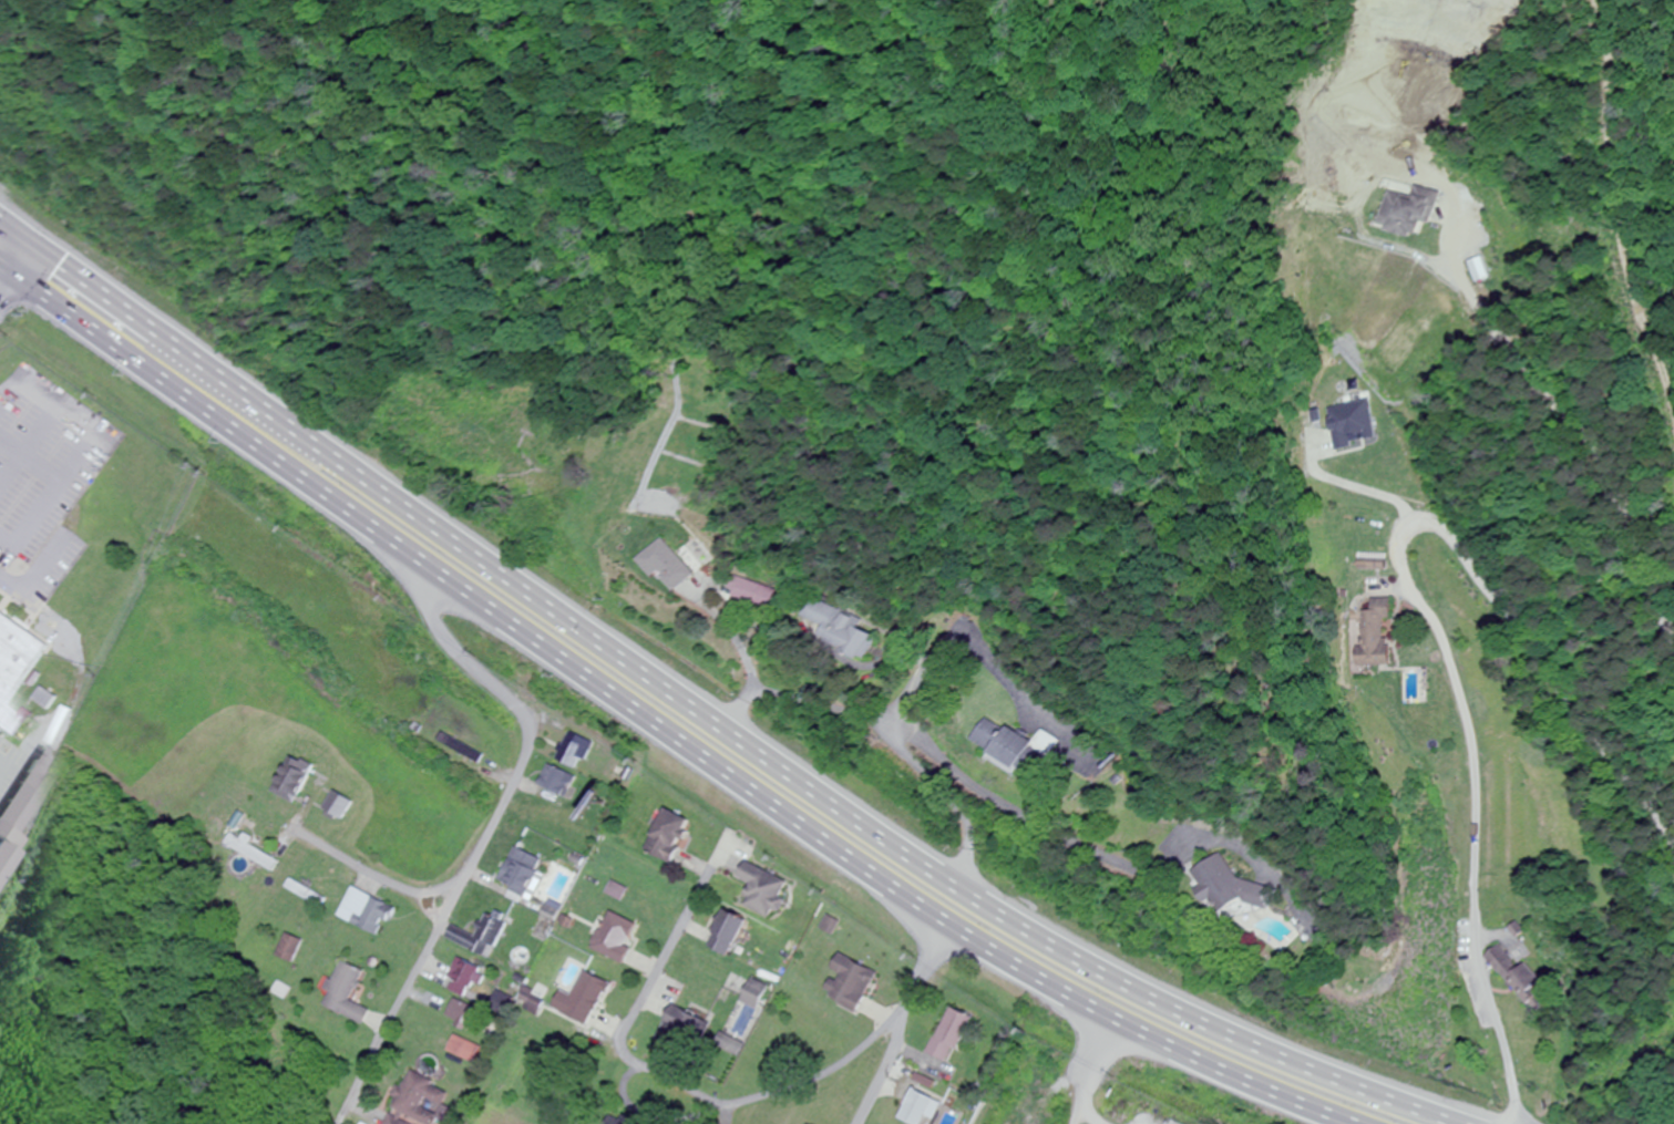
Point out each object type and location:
building: (1407, 213)
traffic signals: (34, 246)
road: (17, 274)
traffic signals: (17, 275)
road: (0, 301)
building: (1344, 389)
road: (1568, 423)
road: (708, 560)
building: (1372, 565)
building: (668, 566)
building: (754, 596)
road: (1432, 609)
building: (819, 612)
building: (1376, 636)
building: (850, 641)
road: (466, 658)
building: (18, 659)
road: (976, 661)
road: (704, 715)
road: (658, 725)
road: (876, 728)
building: (1016, 747)
building: (462, 749)
building: (574, 752)
building: (296, 781)
building: (558, 782)
building: (20, 796)
road: (954, 803)
building: (341, 806)
road: (1033, 821)
building: (669, 837)
building: (256, 854)
road: (376, 870)
road: (466, 877)
building: (520, 878)
building: (1231, 888)
building: (305, 890)
building: (763, 890)
building: (617, 891)
building: (370, 911)
building: (729, 934)
building: (482, 936)
building: (617, 937)
building: (295, 949)
road: (666, 965)
building: (470, 977)
building: (1524, 981)
building: (852, 983)
building: (351, 994)
building: (758, 994)
building: (587, 999)
building: (534, 1001)
building: (470, 1014)
road: (904, 1021)
building: (680, 1028)
building: (954, 1035)
building: (470, 1050)
road: (1092, 1074)
road: (768, 1095)
building: (423, 1102)
building: (921, 1108)
building: (633, 1122)

